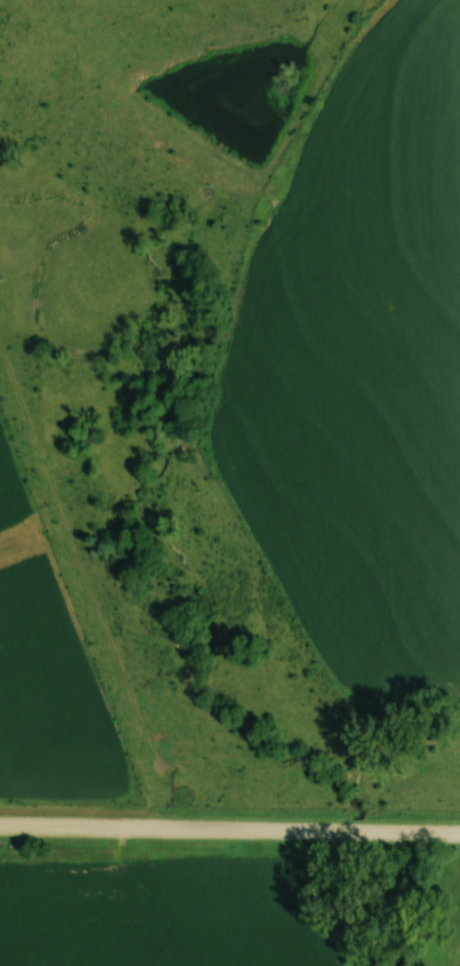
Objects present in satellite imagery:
road: (229, 829)

